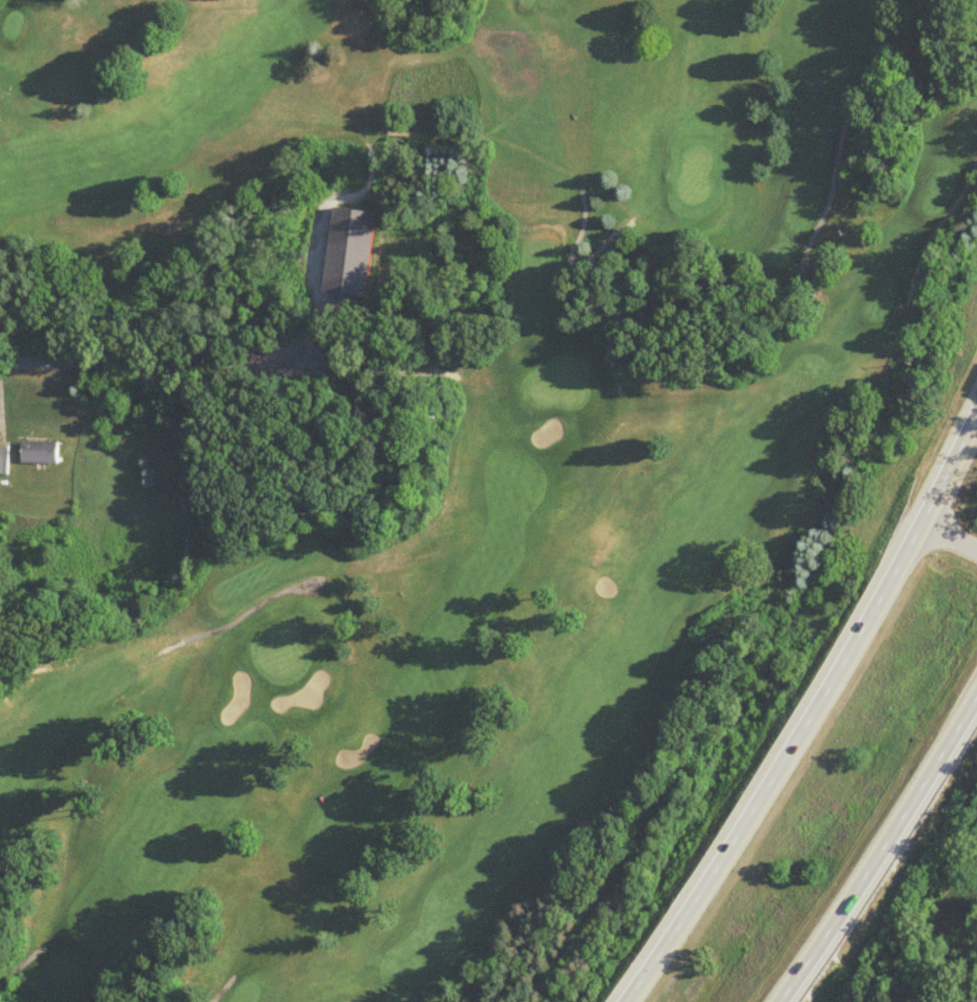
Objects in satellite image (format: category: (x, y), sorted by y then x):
road: (165, 358)
park: (423, 453)
building: (40, 454)
building: (5, 462)
road: (948, 539)
road: (815, 717)
road: (884, 854)

